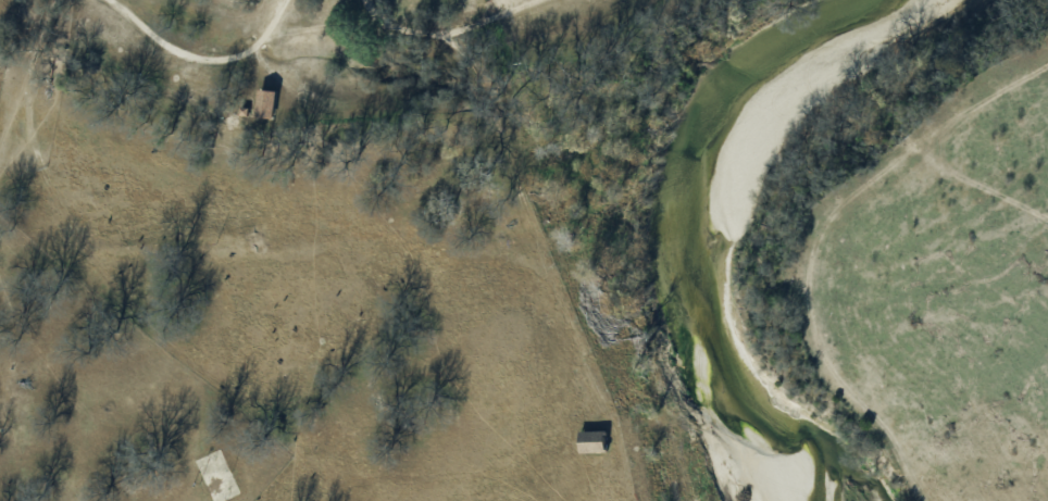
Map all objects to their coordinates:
road: (262, 36)
building: (265, 102)
river: (687, 249)

